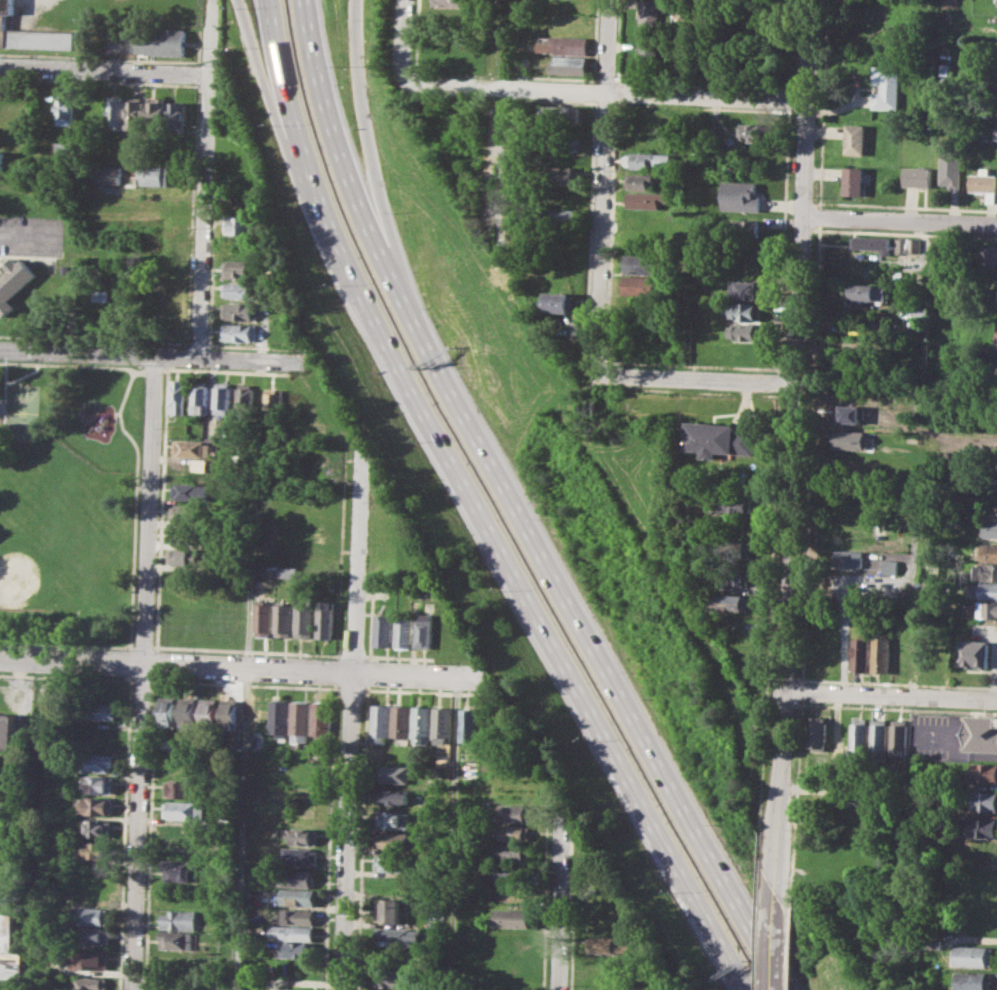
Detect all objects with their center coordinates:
building: (452, 2)
building: (648, 13)
building: (32, 35)
building: (161, 40)
road: (406, 41)
building: (564, 44)
building: (648, 54)
building: (569, 65)
road: (104, 69)
building: (947, 69)
road: (263, 76)
building: (3, 87)
building: (887, 87)
road: (511, 88)
road: (707, 97)
building: (65, 108)
building: (115, 112)
building: (156, 112)
building: (135, 113)
building: (561, 113)
building: (177, 117)
road: (365, 131)
building: (754, 132)
building: (996, 133)
building: (855, 138)
building: (562, 142)
building: (61, 146)
road: (500, 157)
building: (4, 159)
building: (648, 159)
building: (951, 168)
building: (111, 174)
building: (154, 174)
building: (563, 176)
building: (917, 176)
road: (206, 178)
building: (853, 180)
building: (984, 180)
building: (640, 181)
road: (604, 187)
building: (562, 196)
building: (740, 196)
building: (647, 199)
building: (562, 217)
road: (899, 220)
building: (240, 224)
building: (742, 228)
building: (868, 242)
building: (907, 245)
building: (988, 255)
building: (643, 264)
building: (239, 268)
building: (14, 281)
building: (642, 285)
building: (747, 289)
building: (241, 290)
building: (865, 291)
building: (100, 295)
building: (559, 302)
building: (238, 310)
building: (747, 310)
building: (919, 313)
building: (239, 331)
building: (747, 331)
building: (996, 342)
road: (148, 355)
road: (700, 380)
building: (178, 396)
building: (223, 396)
building: (201, 397)
building: (246, 397)
building: (273, 399)
building: (848, 413)
building: (718, 438)
building: (851, 439)
road: (793, 444)
building: (193, 448)
building: (320, 454)
building: (192, 469)
building: (319, 475)
building: (192, 490)
park: (71, 502)
building: (734, 504)
road: (480, 505)
road: (517, 506)
building: (189, 512)
building: (990, 512)
building: (989, 530)
building: (188, 534)
building: (734, 549)
building: (308, 551)
building: (990, 552)
building: (186, 556)
building: (851, 558)
park: (48, 563)
building: (890, 566)
building: (288, 571)
building: (989, 571)
building: (733, 574)
building: (930, 585)
building: (987, 589)
building: (414, 590)
building: (731, 602)
building: (988, 609)
building: (264, 618)
building: (326, 619)
building: (284, 620)
building: (305, 621)
building: (383, 630)
building: (426, 630)
building: (404, 631)
building: (926, 652)
building: (861, 653)
building: (976, 653)
building: (883, 654)
building: (902, 654)
road: (241, 666)
road: (144, 672)
road: (891, 695)
building: (51, 701)
building: (99, 710)
building: (166, 710)
building: (187, 713)
building: (208, 714)
building: (229, 714)
road: (246, 717)
building: (322, 717)
building: (280, 718)
road: (350, 720)
building: (301, 721)
building: (402, 721)
building: (381, 723)
building: (423, 723)
building: (445, 724)
building: (472, 724)
building: (8, 731)
building: (819, 732)
building: (860, 733)
building: (984, 733)
building: (880, 734)
building: (900, 735)
parking lot: (941, 736)
building: (168, 744)
road: (960, 755)
building: (96, 761)
building: (180, 767)
building: (471, 770)
building: (983, 772)
building: (396, 773)
building: (97, 784)
building: (182, 788)
building: (857, 795)
building: (394, 797)
building: (985, 800)
building: (95, 805)
building: (184, 809)
building: (516, 812)
building: (394, 819)
building: (98, 827)
building: (981, 827)
building: (516, 832)
building: (303, 837)
building: (393, 840)
building: (95, 849)
building: (514, 852)
building: (301, 856)
building: (393, 862)
building: (180, 870)
building: (514, 873)
building: (301, 878)
building: (297, 896)
road: (559, 900)
building: (390, 910)
building: (93, 915)
building: (296, 916)
building: (511, 917)
building: (179, 919)
building: (985, 925)
building: (294, 931)
building: (94, 935)
building: (393, 936)
road: (776, 939)
building: (175, 941)
building: (933, 943)
building: (605, 944)
building: (9, 950)
building: (298, 950)
building: (973, 955)
building: (89, 960)
building: (392, 978)
building: (974, 980)
building: (88, 983)
building: (298, 988)

